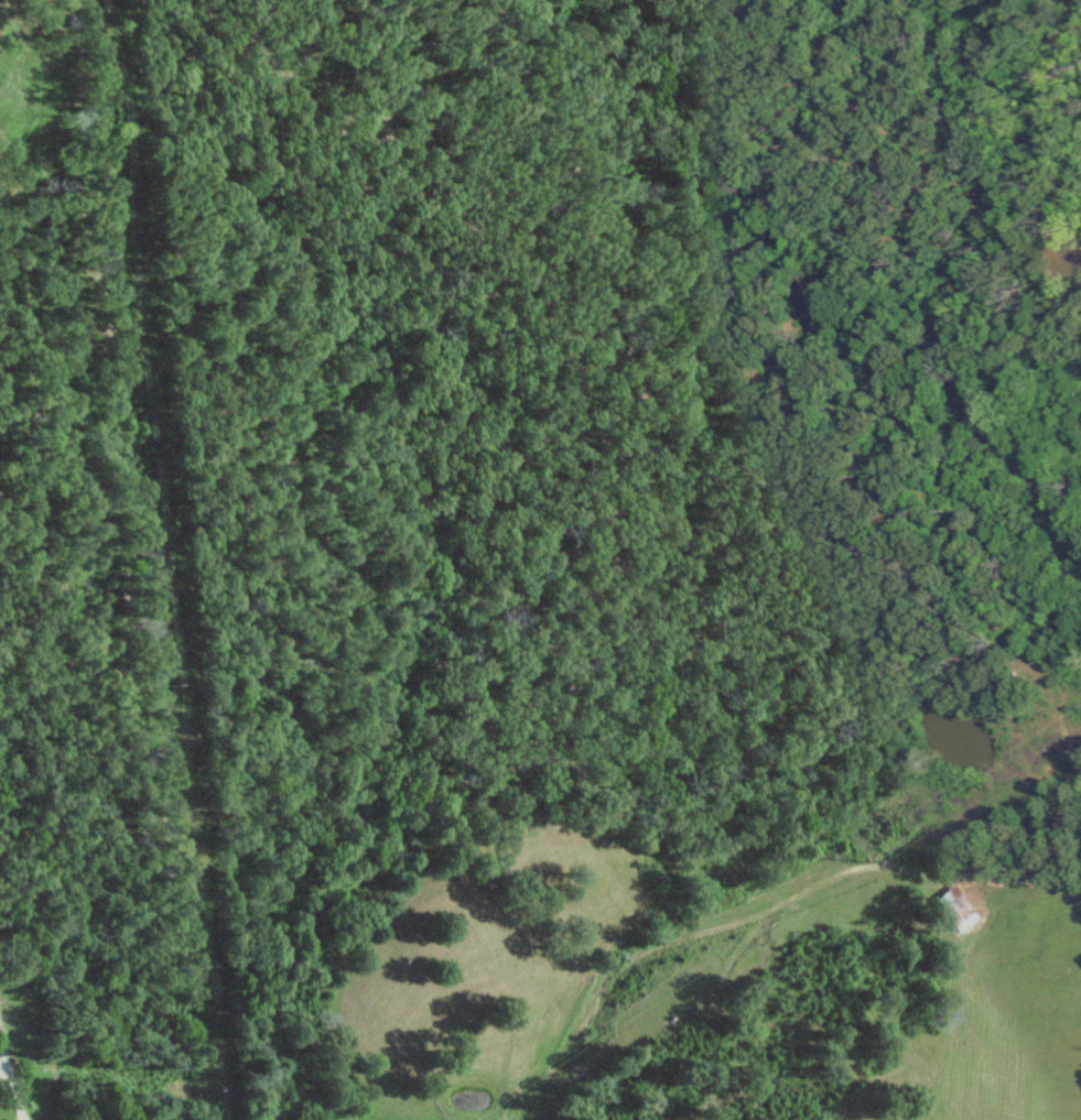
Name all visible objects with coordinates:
building: (959, 910)
road: (758, 913)
road: (10, 1089)

